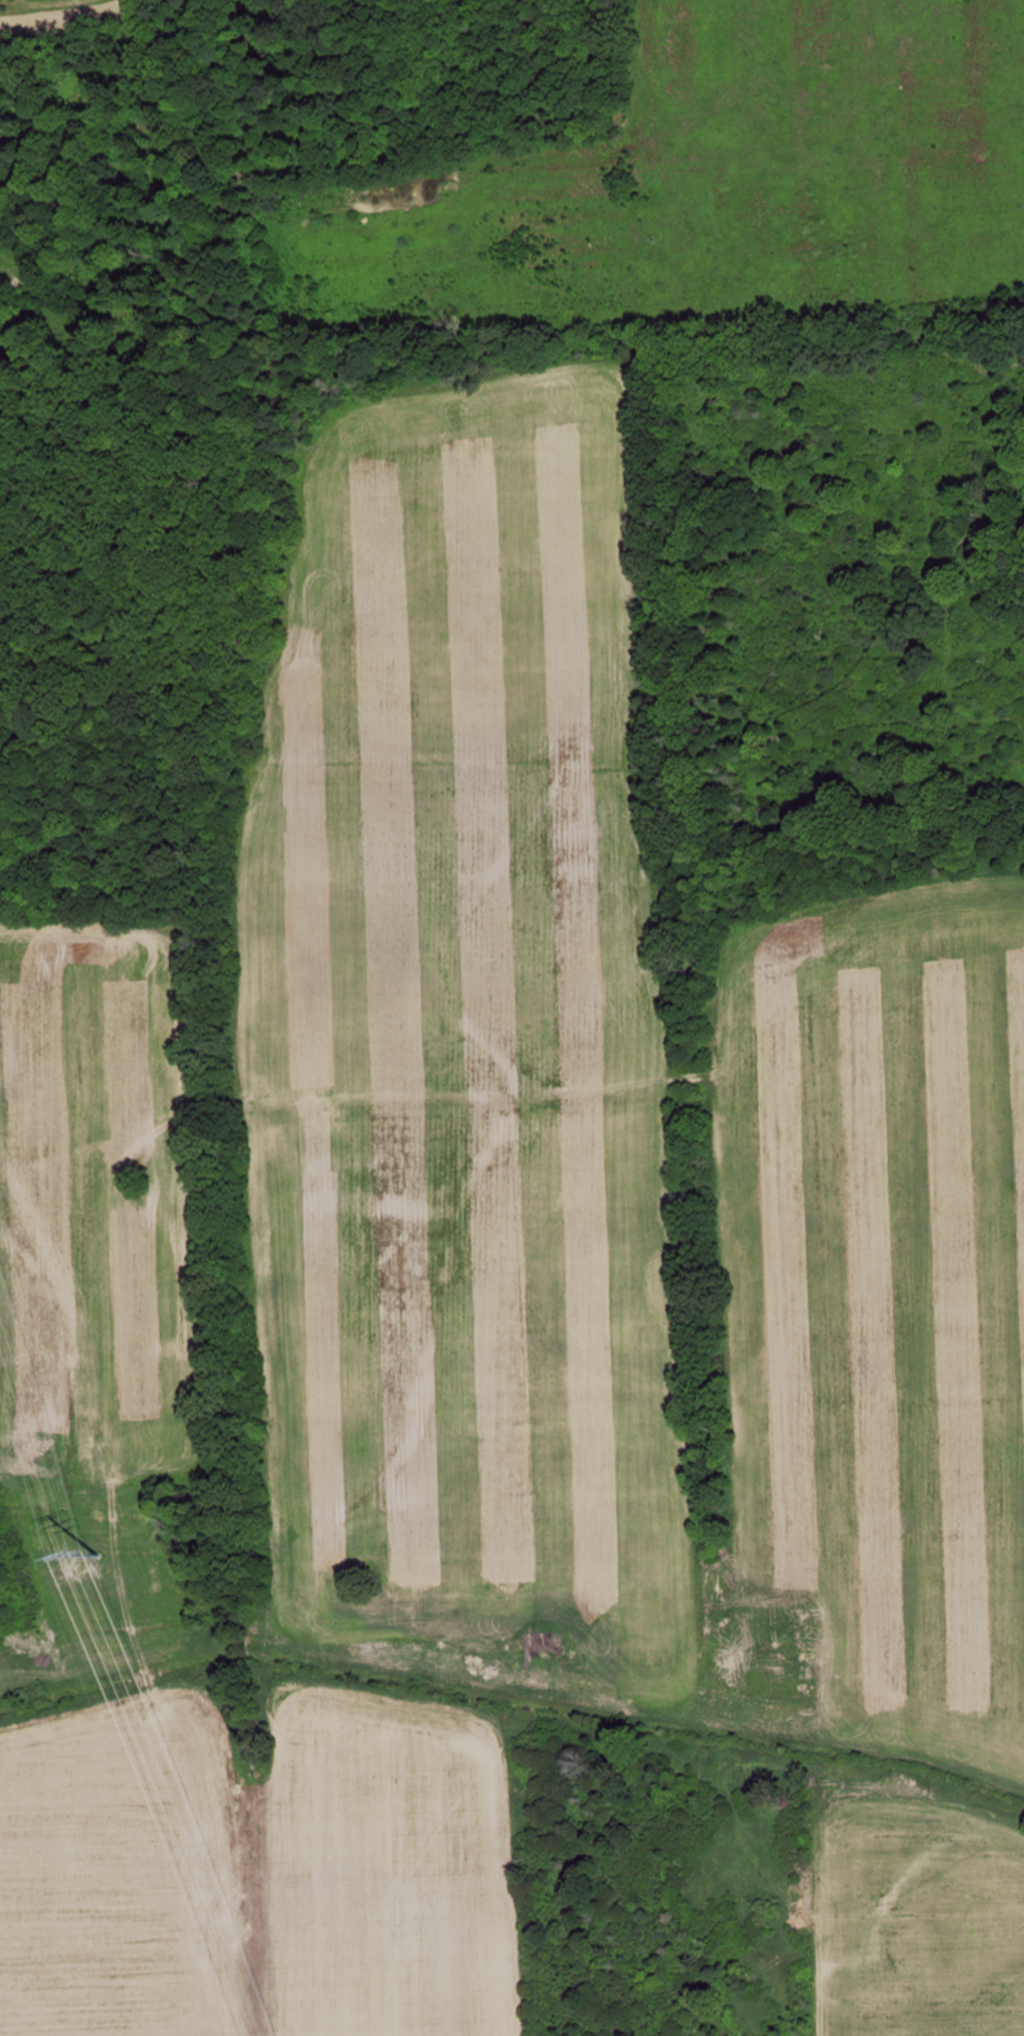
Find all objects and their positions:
power tower: (97, 1552)

